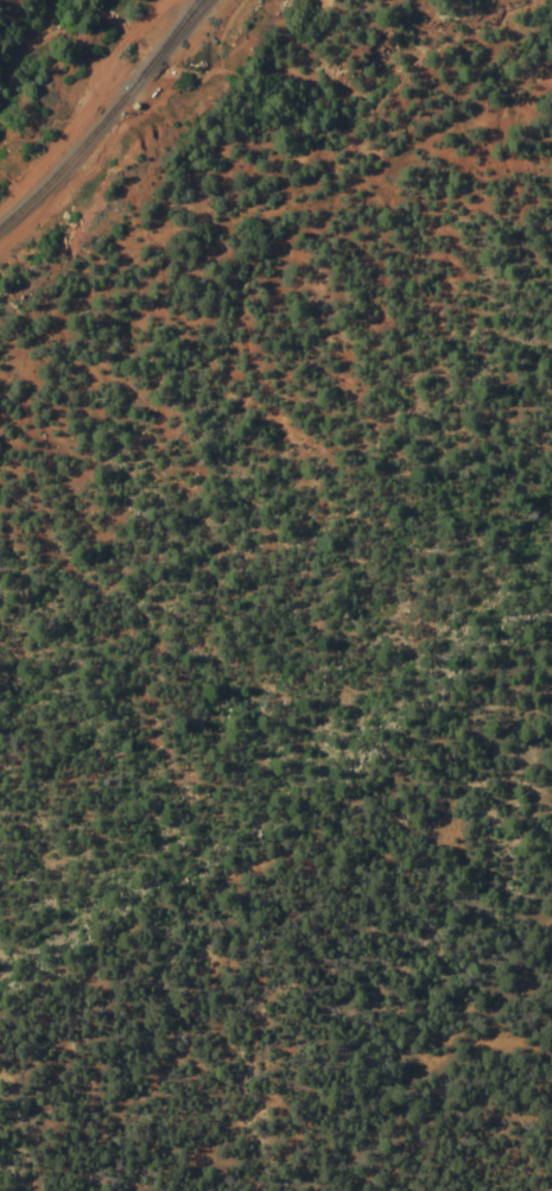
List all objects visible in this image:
road: (138, 27)
railway: (160, 47)
railway: (106, 116)

